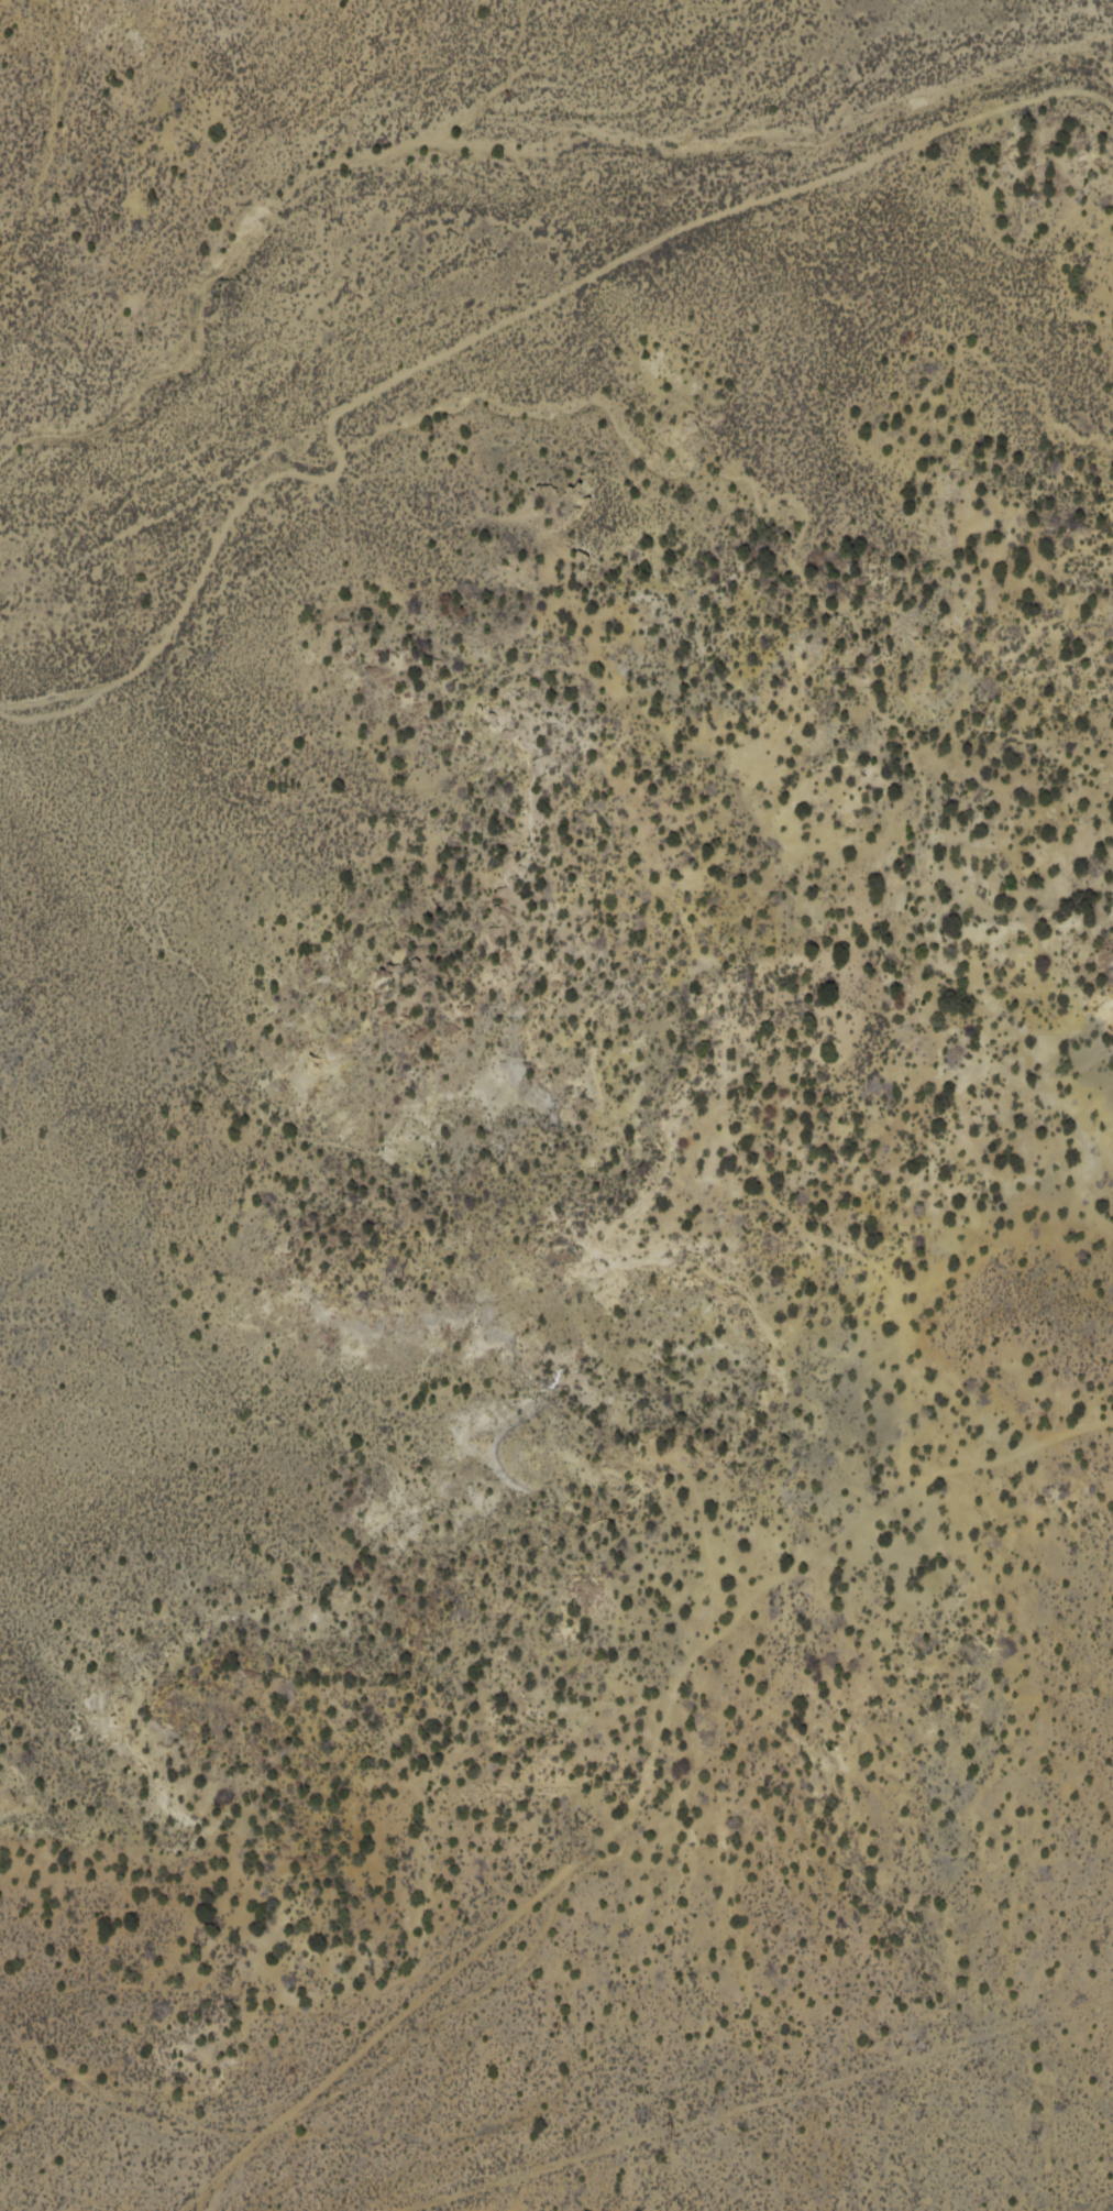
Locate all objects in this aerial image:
power tower: (668, 2127)

